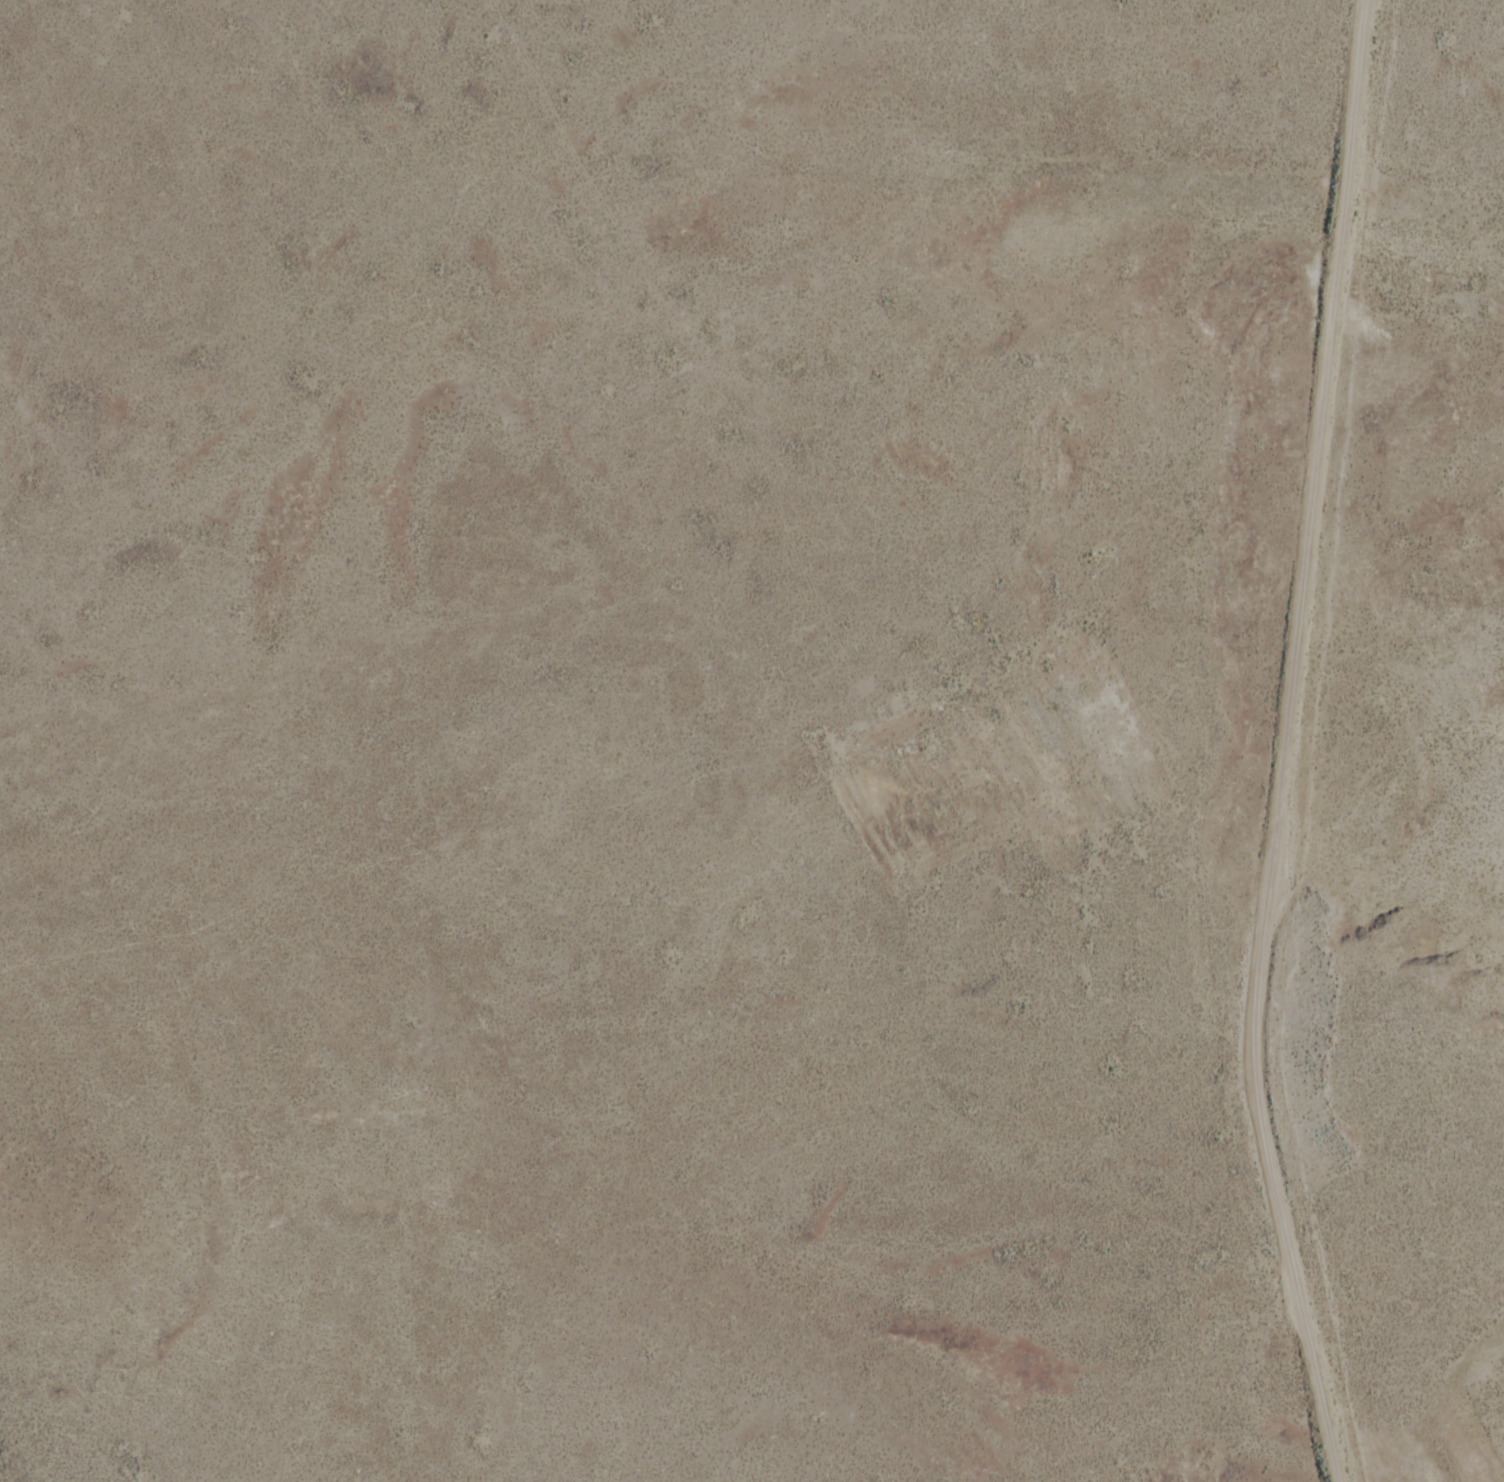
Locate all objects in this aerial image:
road: (1283, 743)

